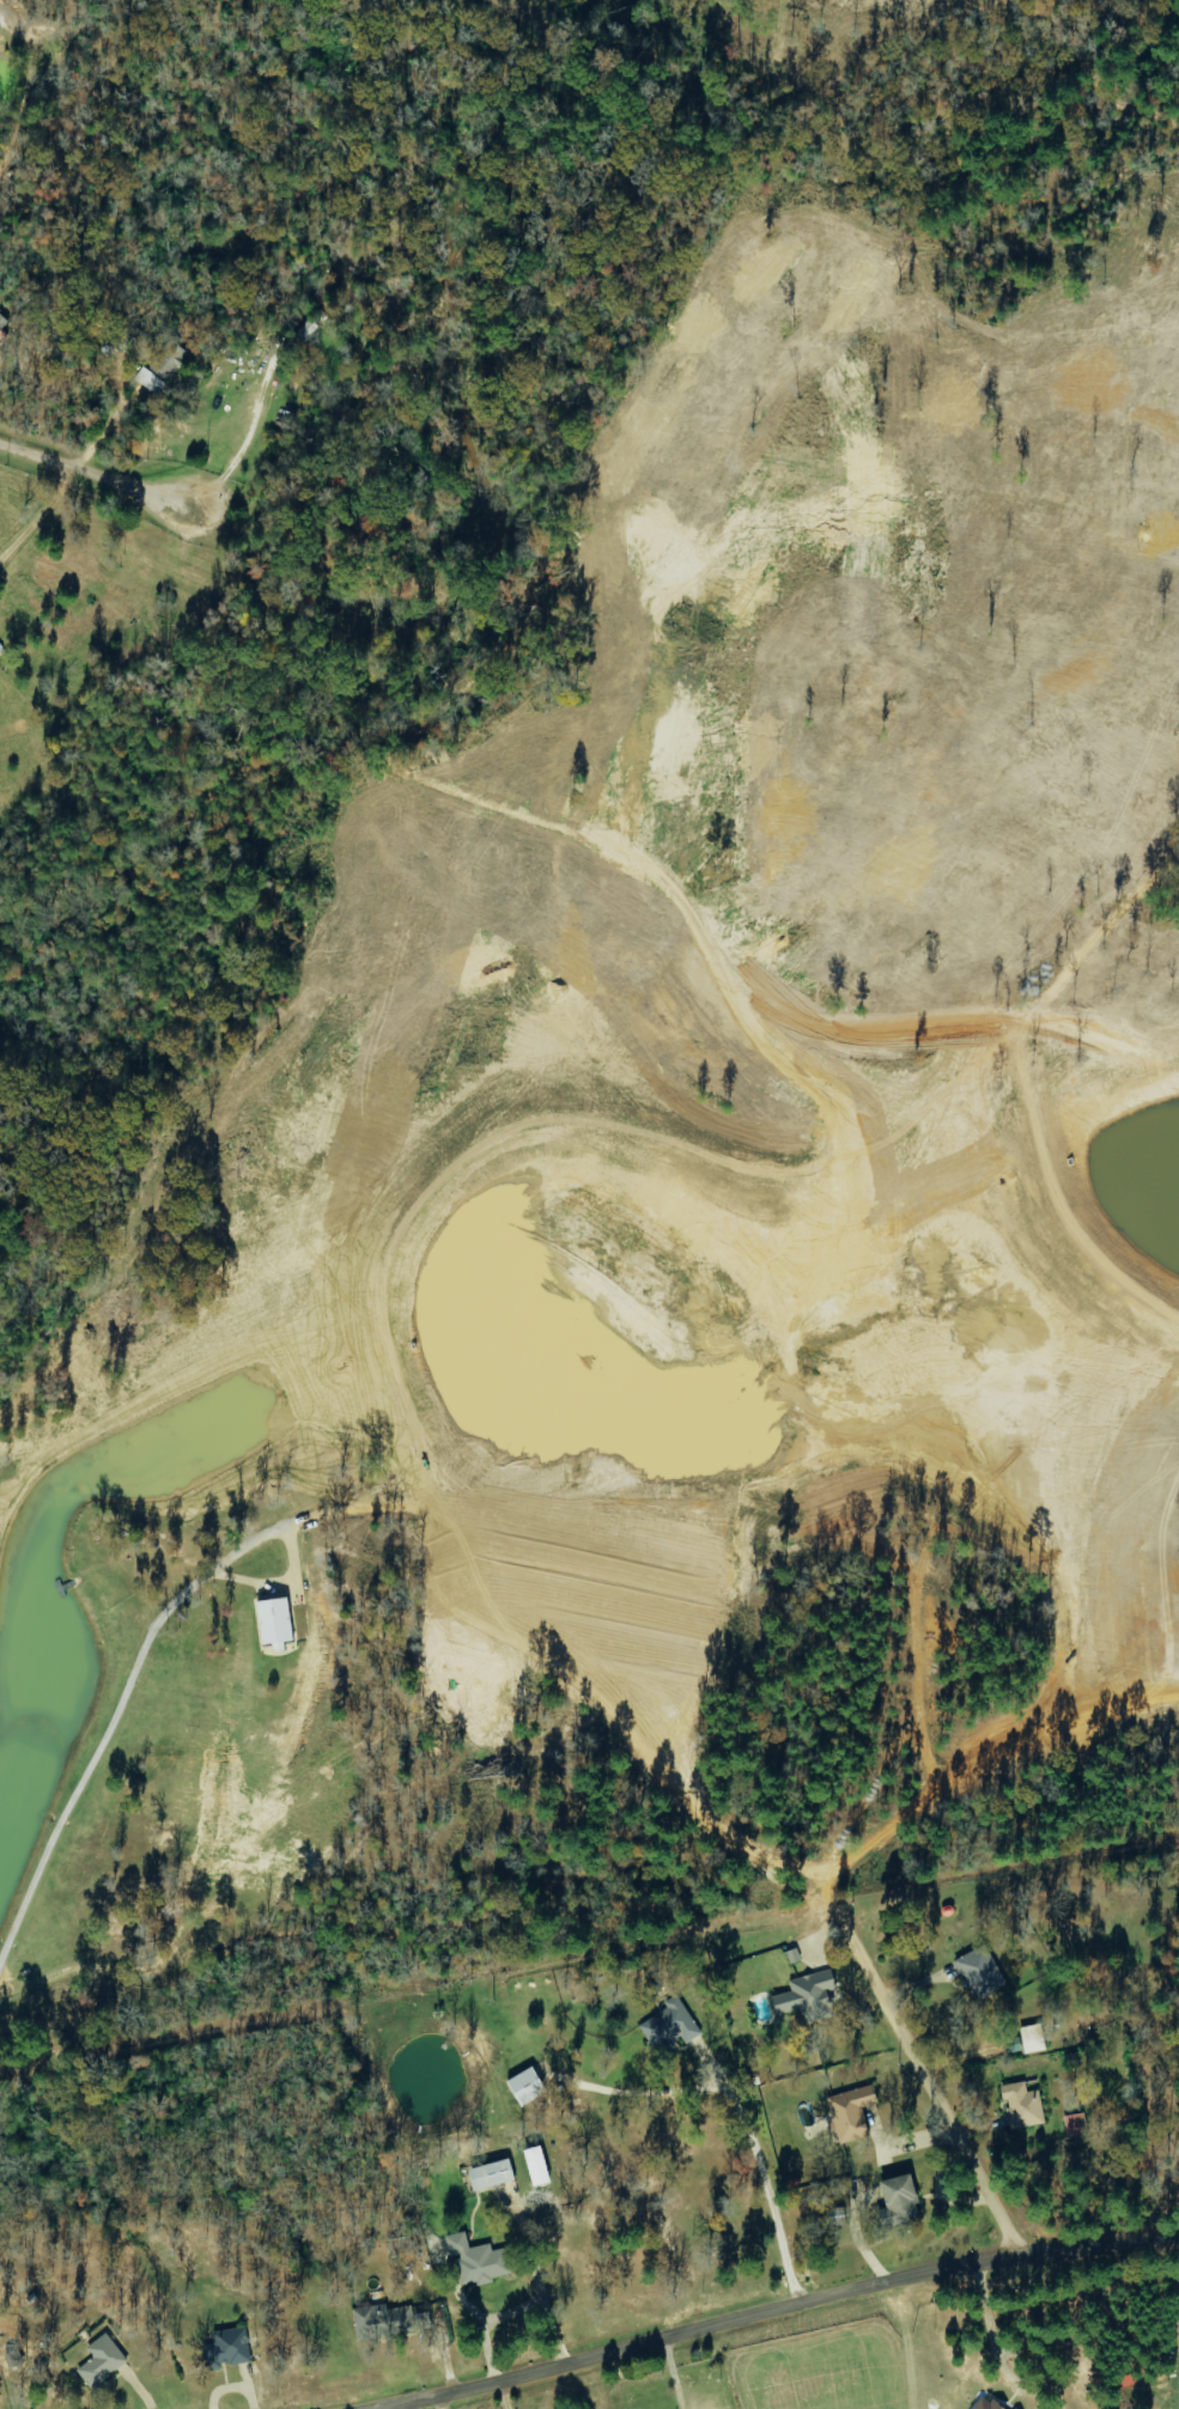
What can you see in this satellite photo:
road: (102, 480)
building: (273, 1622)
building: (979, 1971)
building: (806, 1996)
building: (669, 2026)
building: (1031, 2038)
building: (524, 2087)
building: (1021, 2105)
building: (849, 2112)
building: (535, 2166)
building: (490, 2174)
building: (894, 2200)
building: (476, 2261)
road: (780, 2308)
building: (387, 2320)
building: (226, 2348)
building: (101, 2361)
building: (985, 2404)

